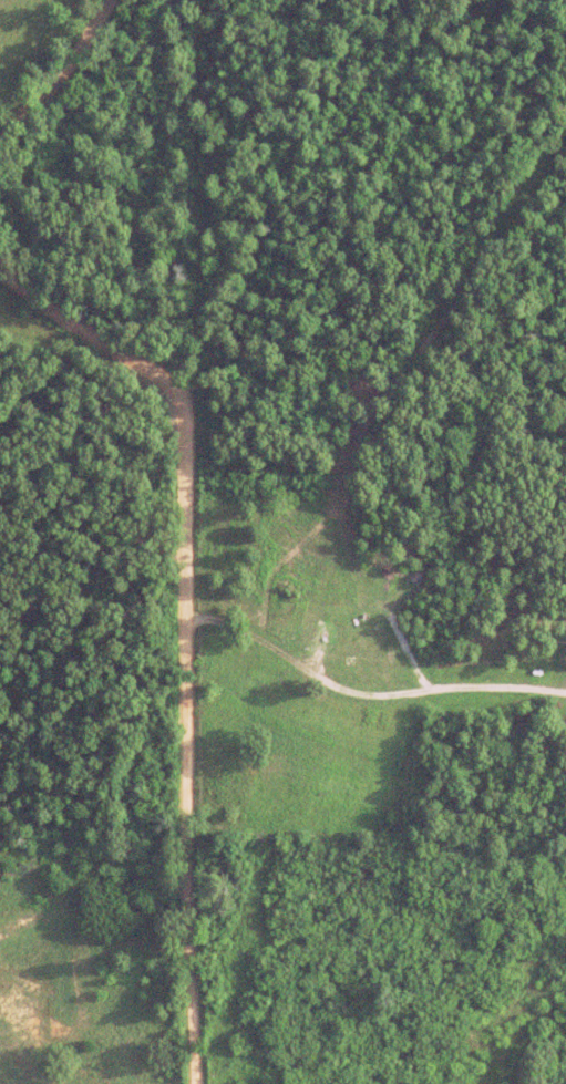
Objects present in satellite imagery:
road: (54, 71)
road: (185, 630)

